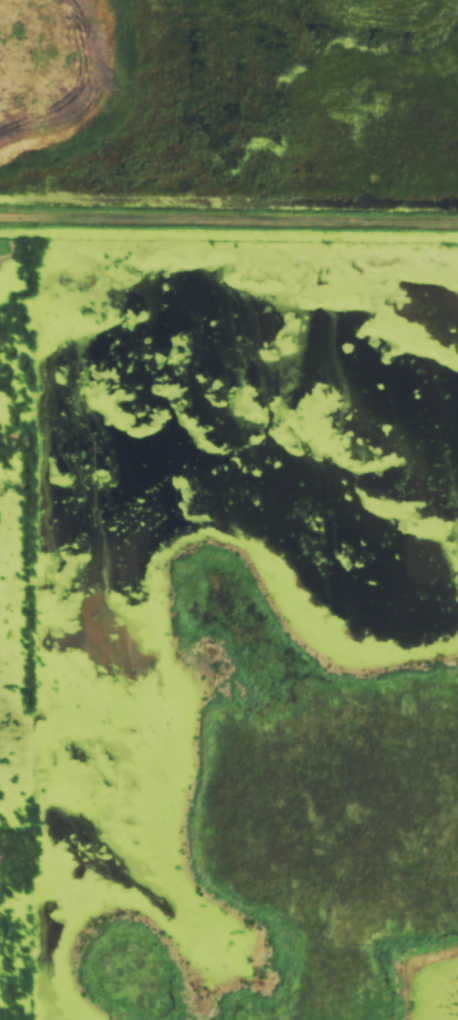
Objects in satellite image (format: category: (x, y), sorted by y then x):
road: (229, 219)

